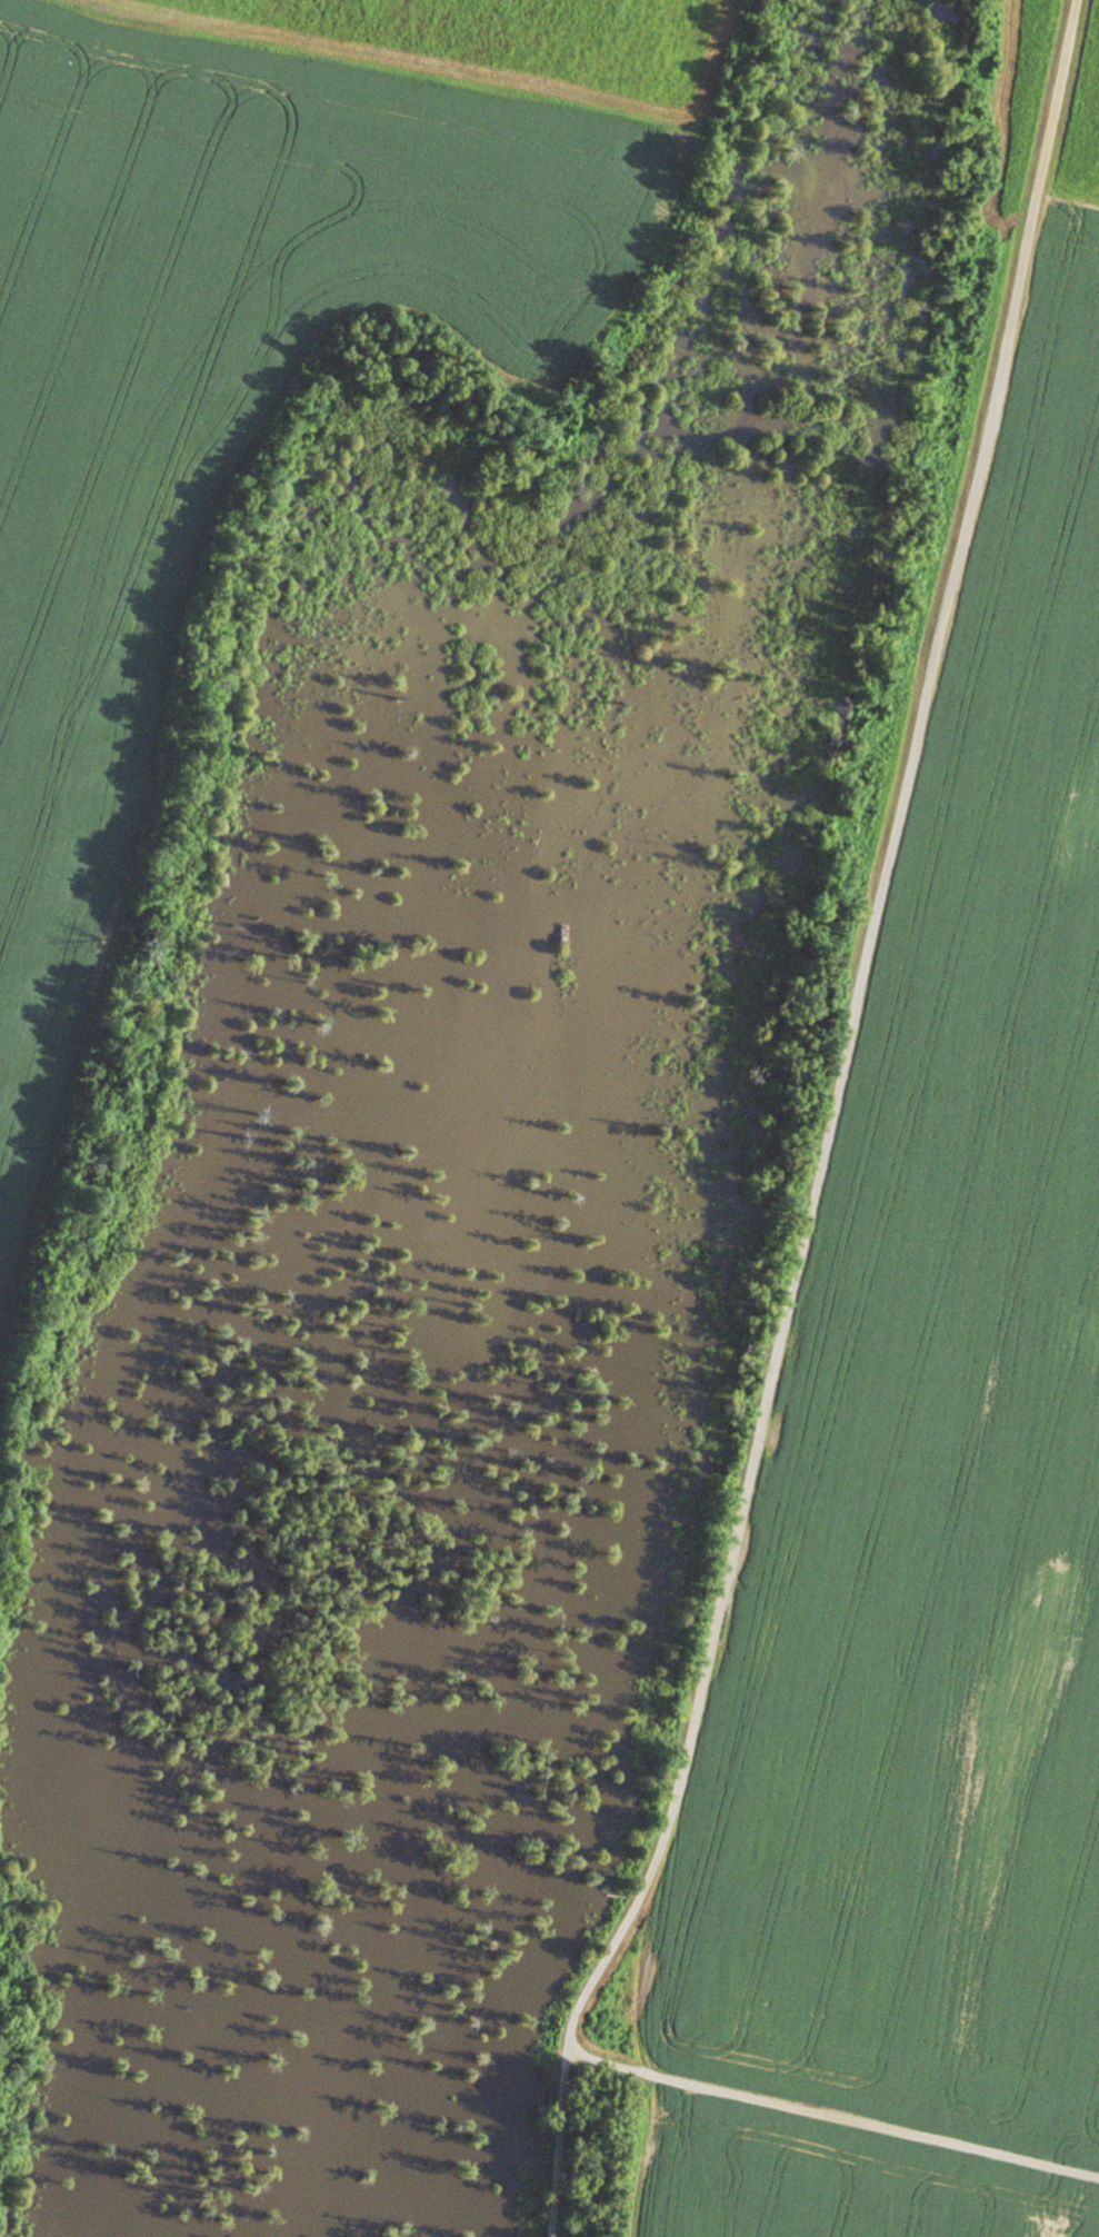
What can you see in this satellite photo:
road: (897, 1120)

